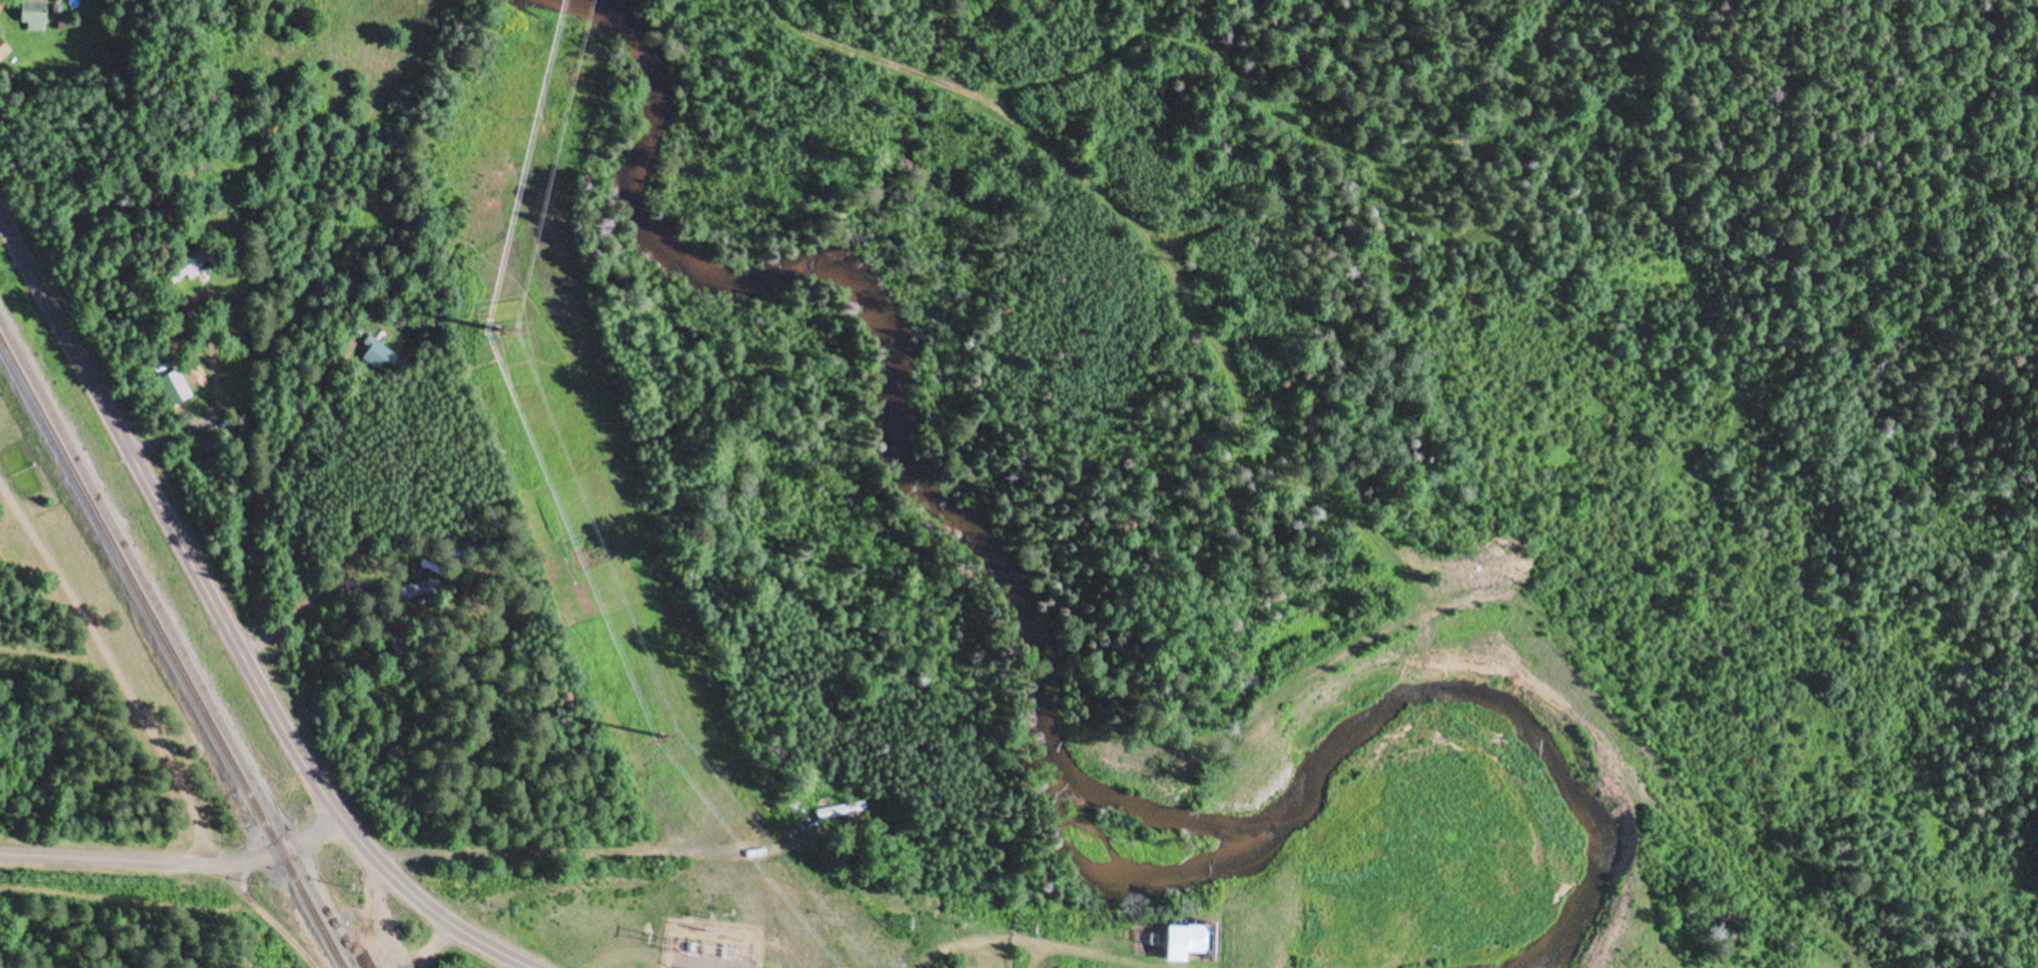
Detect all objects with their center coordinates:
building: (38, 10)
building: (3, 47)
road: (1157, 240)
power tower: (498, 331)
building: (177, 389)
river: (962, 538)
road: (224, 623)
railway: (178, 643)
road: (1336, 651)
railway: (171, 653)
park: (103, 659)
road: (111, 677)
power tower: (663, 737)
road: (585, 854)
road: (177, 864)
dam: (1247, 876)
road: (124, 899)
road: (382, 915)
road: (267, 918)
building: (1177, 944)
road: (432, 946)
power substation: (710, 947)

